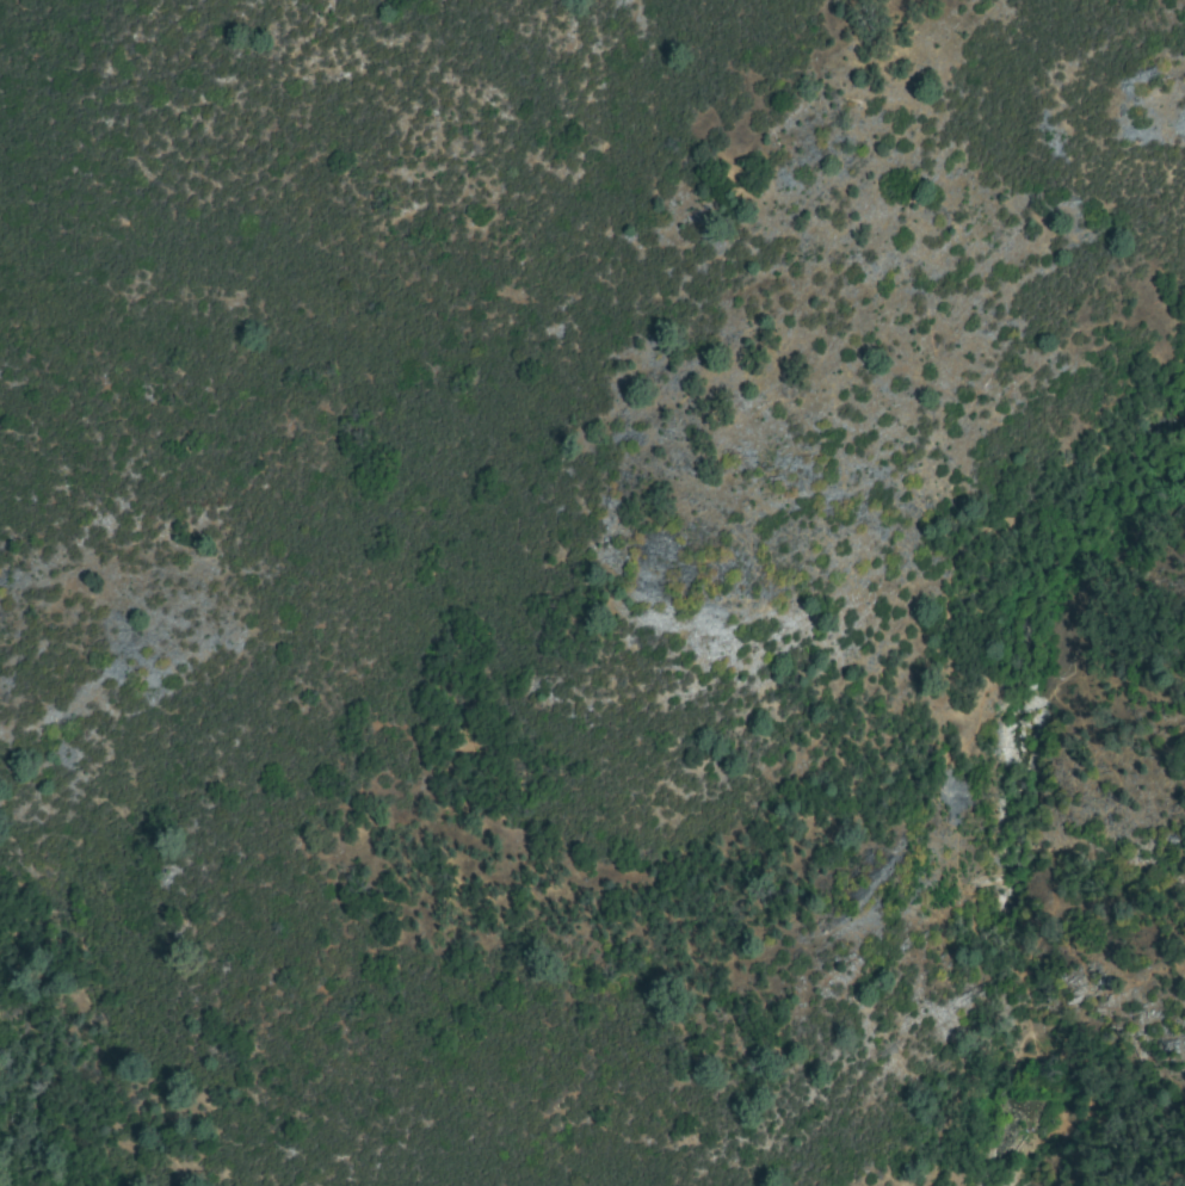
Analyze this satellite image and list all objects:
road: (1140, 1142)

